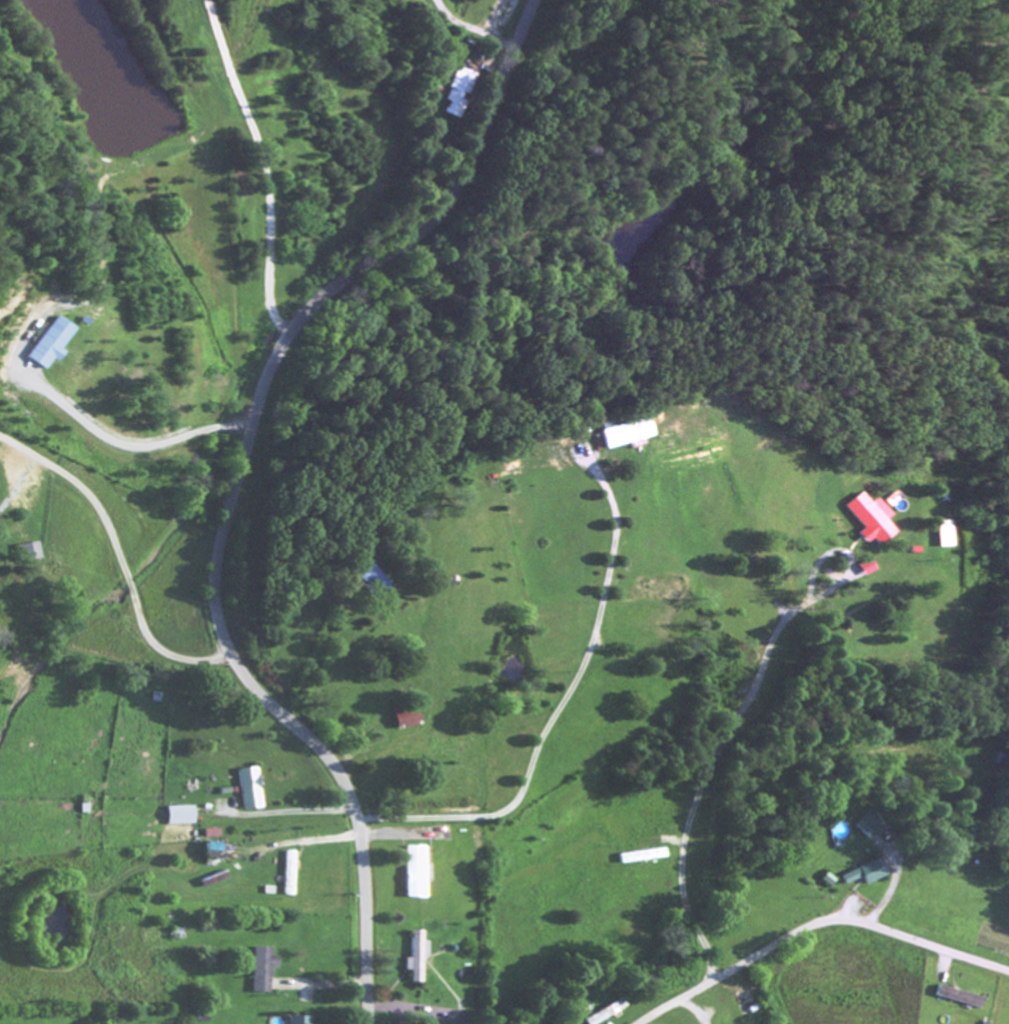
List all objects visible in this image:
building: (457, 91)
building: (45, 345)
building: (619, 434)
road: (234, 484)
building: (865, 522)
building: (939, 535)
building: (863, 569)
building: (368, 577)
building: (401, 720)
building: (246, 790)
building: (177, 817)
building: (865, 827)
building: (206, 853)
building: (637, 858)
building: (410, 874)
building: (862, 874)
building: (284, 875)
road: (813, 926)
building: (412, 959)
building: (258, 971)
building: (955, 999)
building: (605, 1012)
building: (295, 1021)

